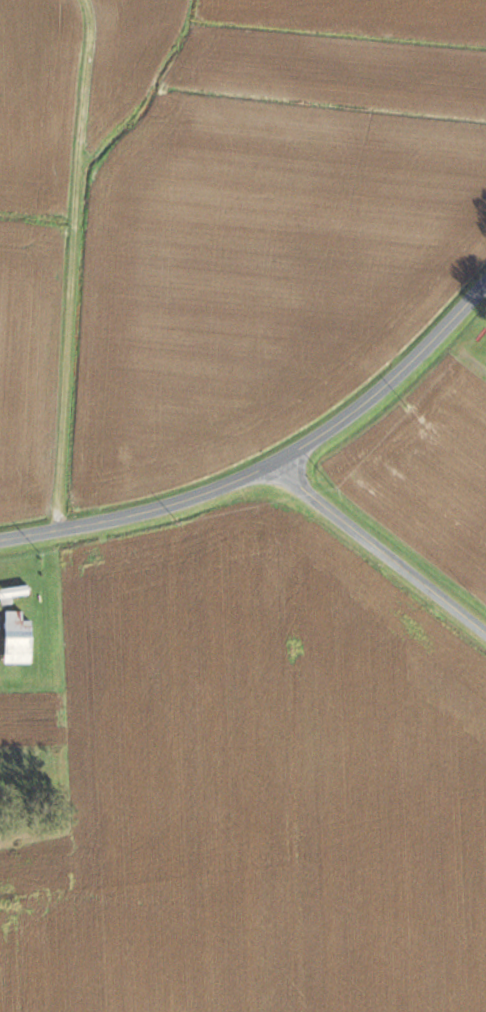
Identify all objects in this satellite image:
road: (485, 277)
road: (271, 458)
road: (376, 546)
building: (14, 592)
building: (17, 637)

